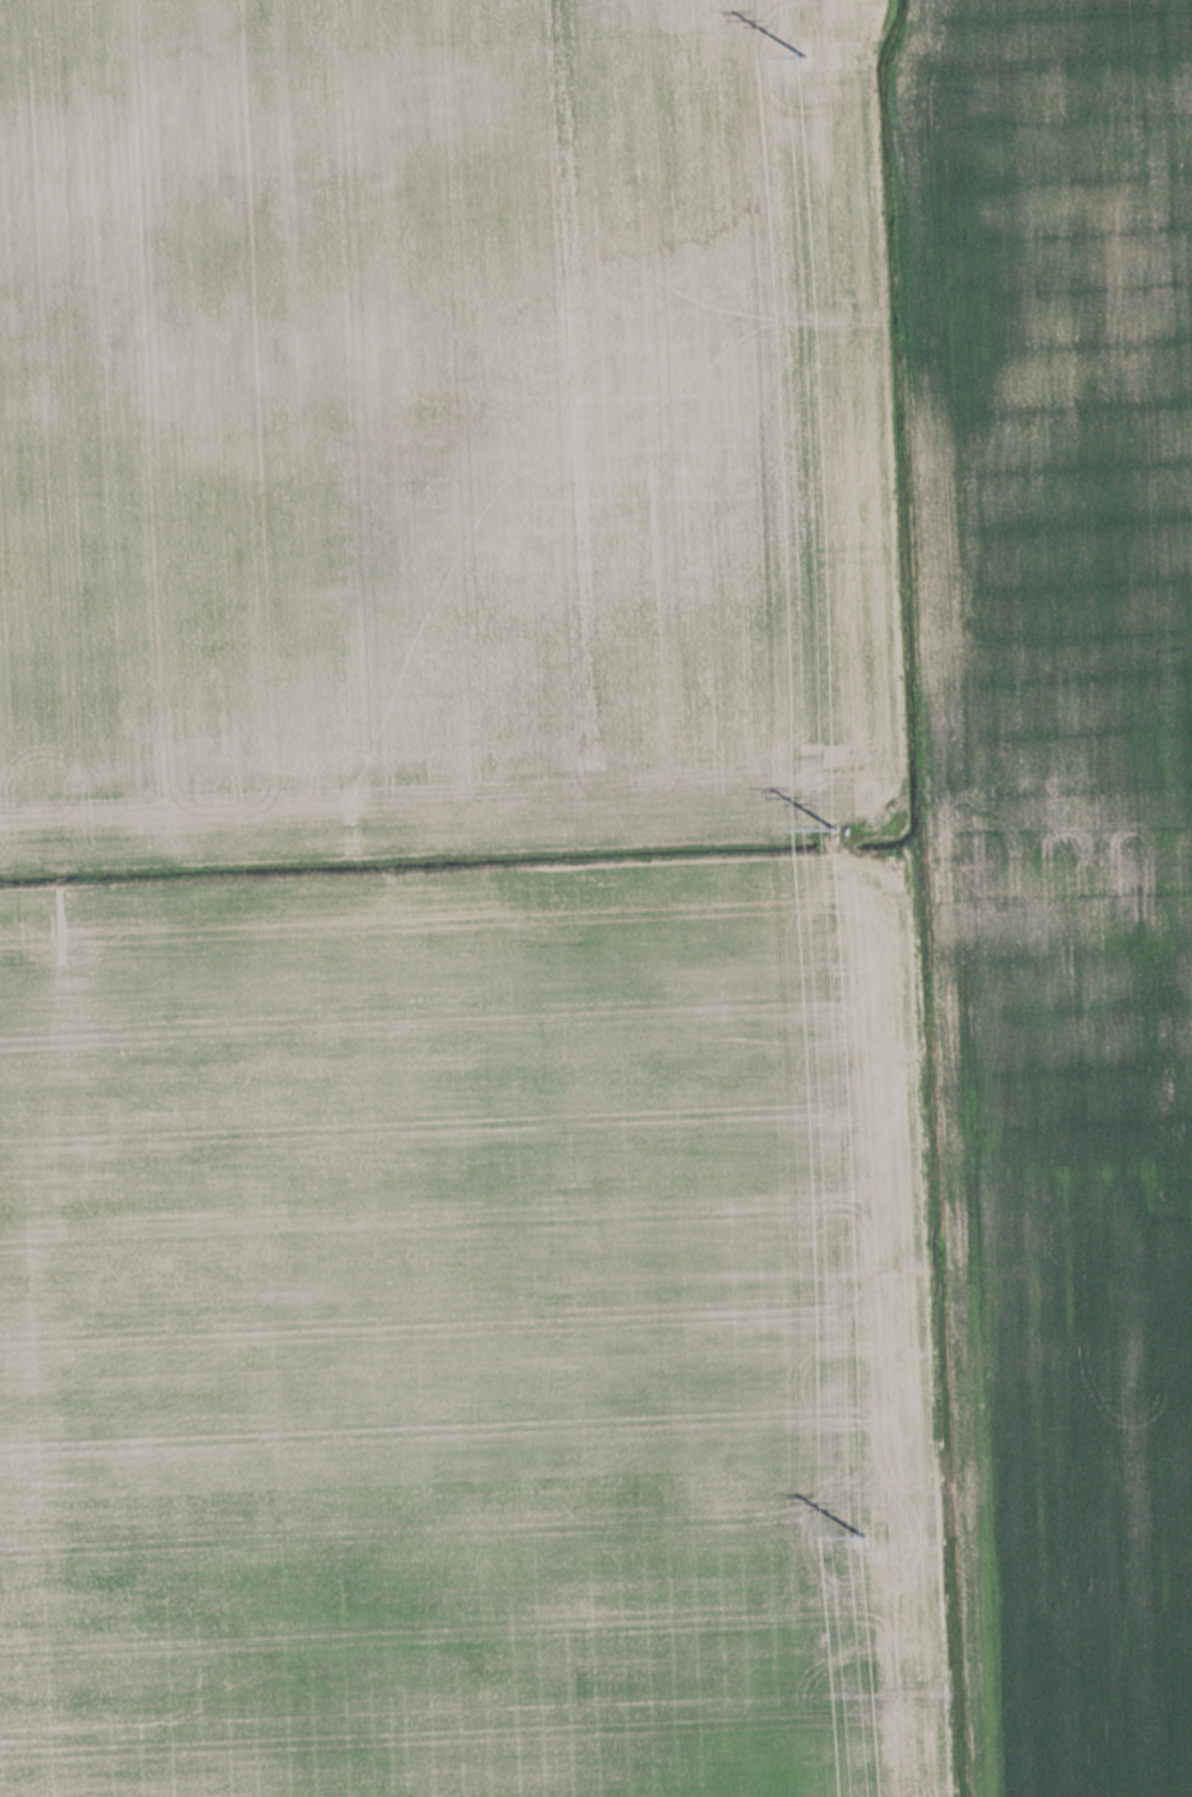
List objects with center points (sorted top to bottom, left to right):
power tower: (803, 51)
power tower: (829, 819)
power tower: (852, 1529)

